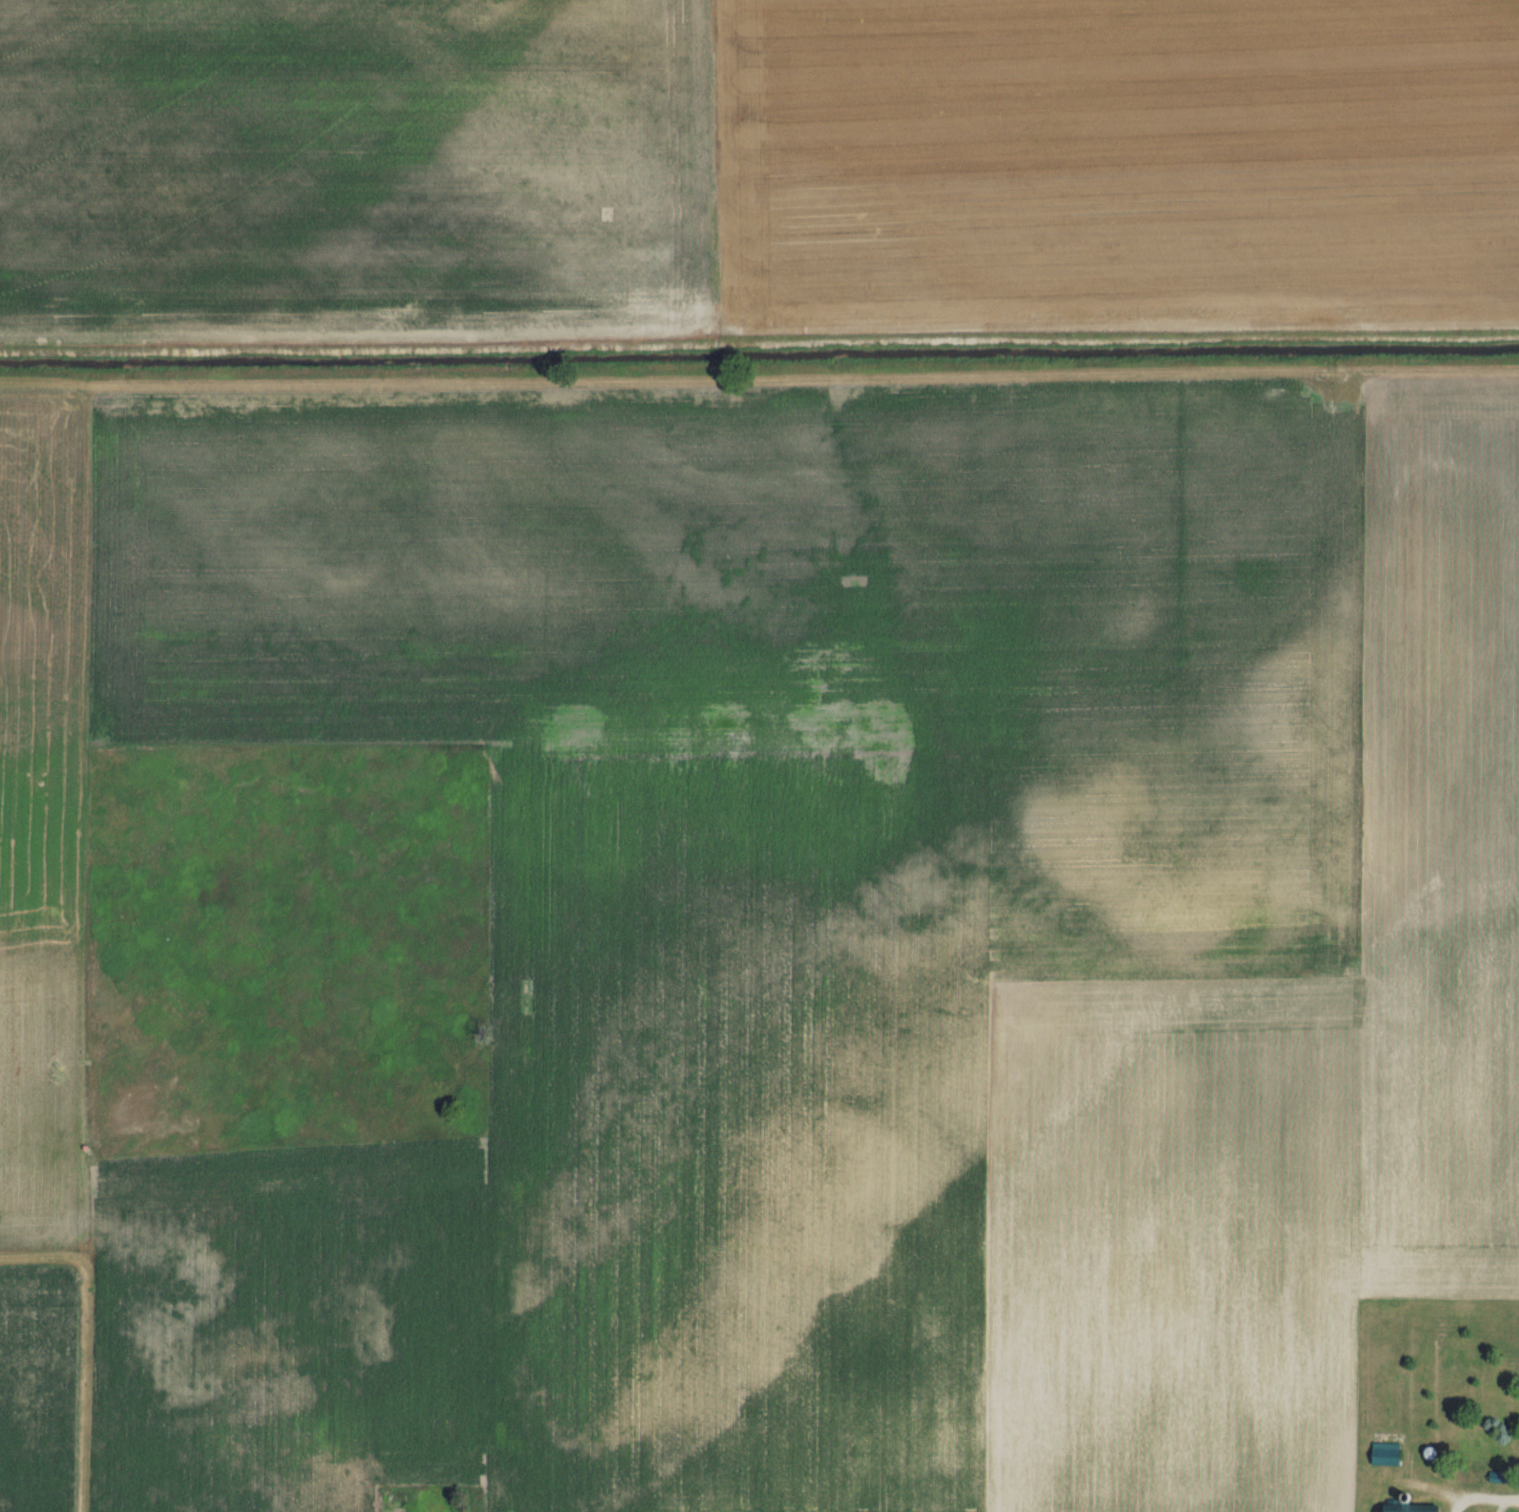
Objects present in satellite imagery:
building: (1390, 1453)
building: (1476, 1469)
road: (1483, 1495)
building: (1423, 1507)

